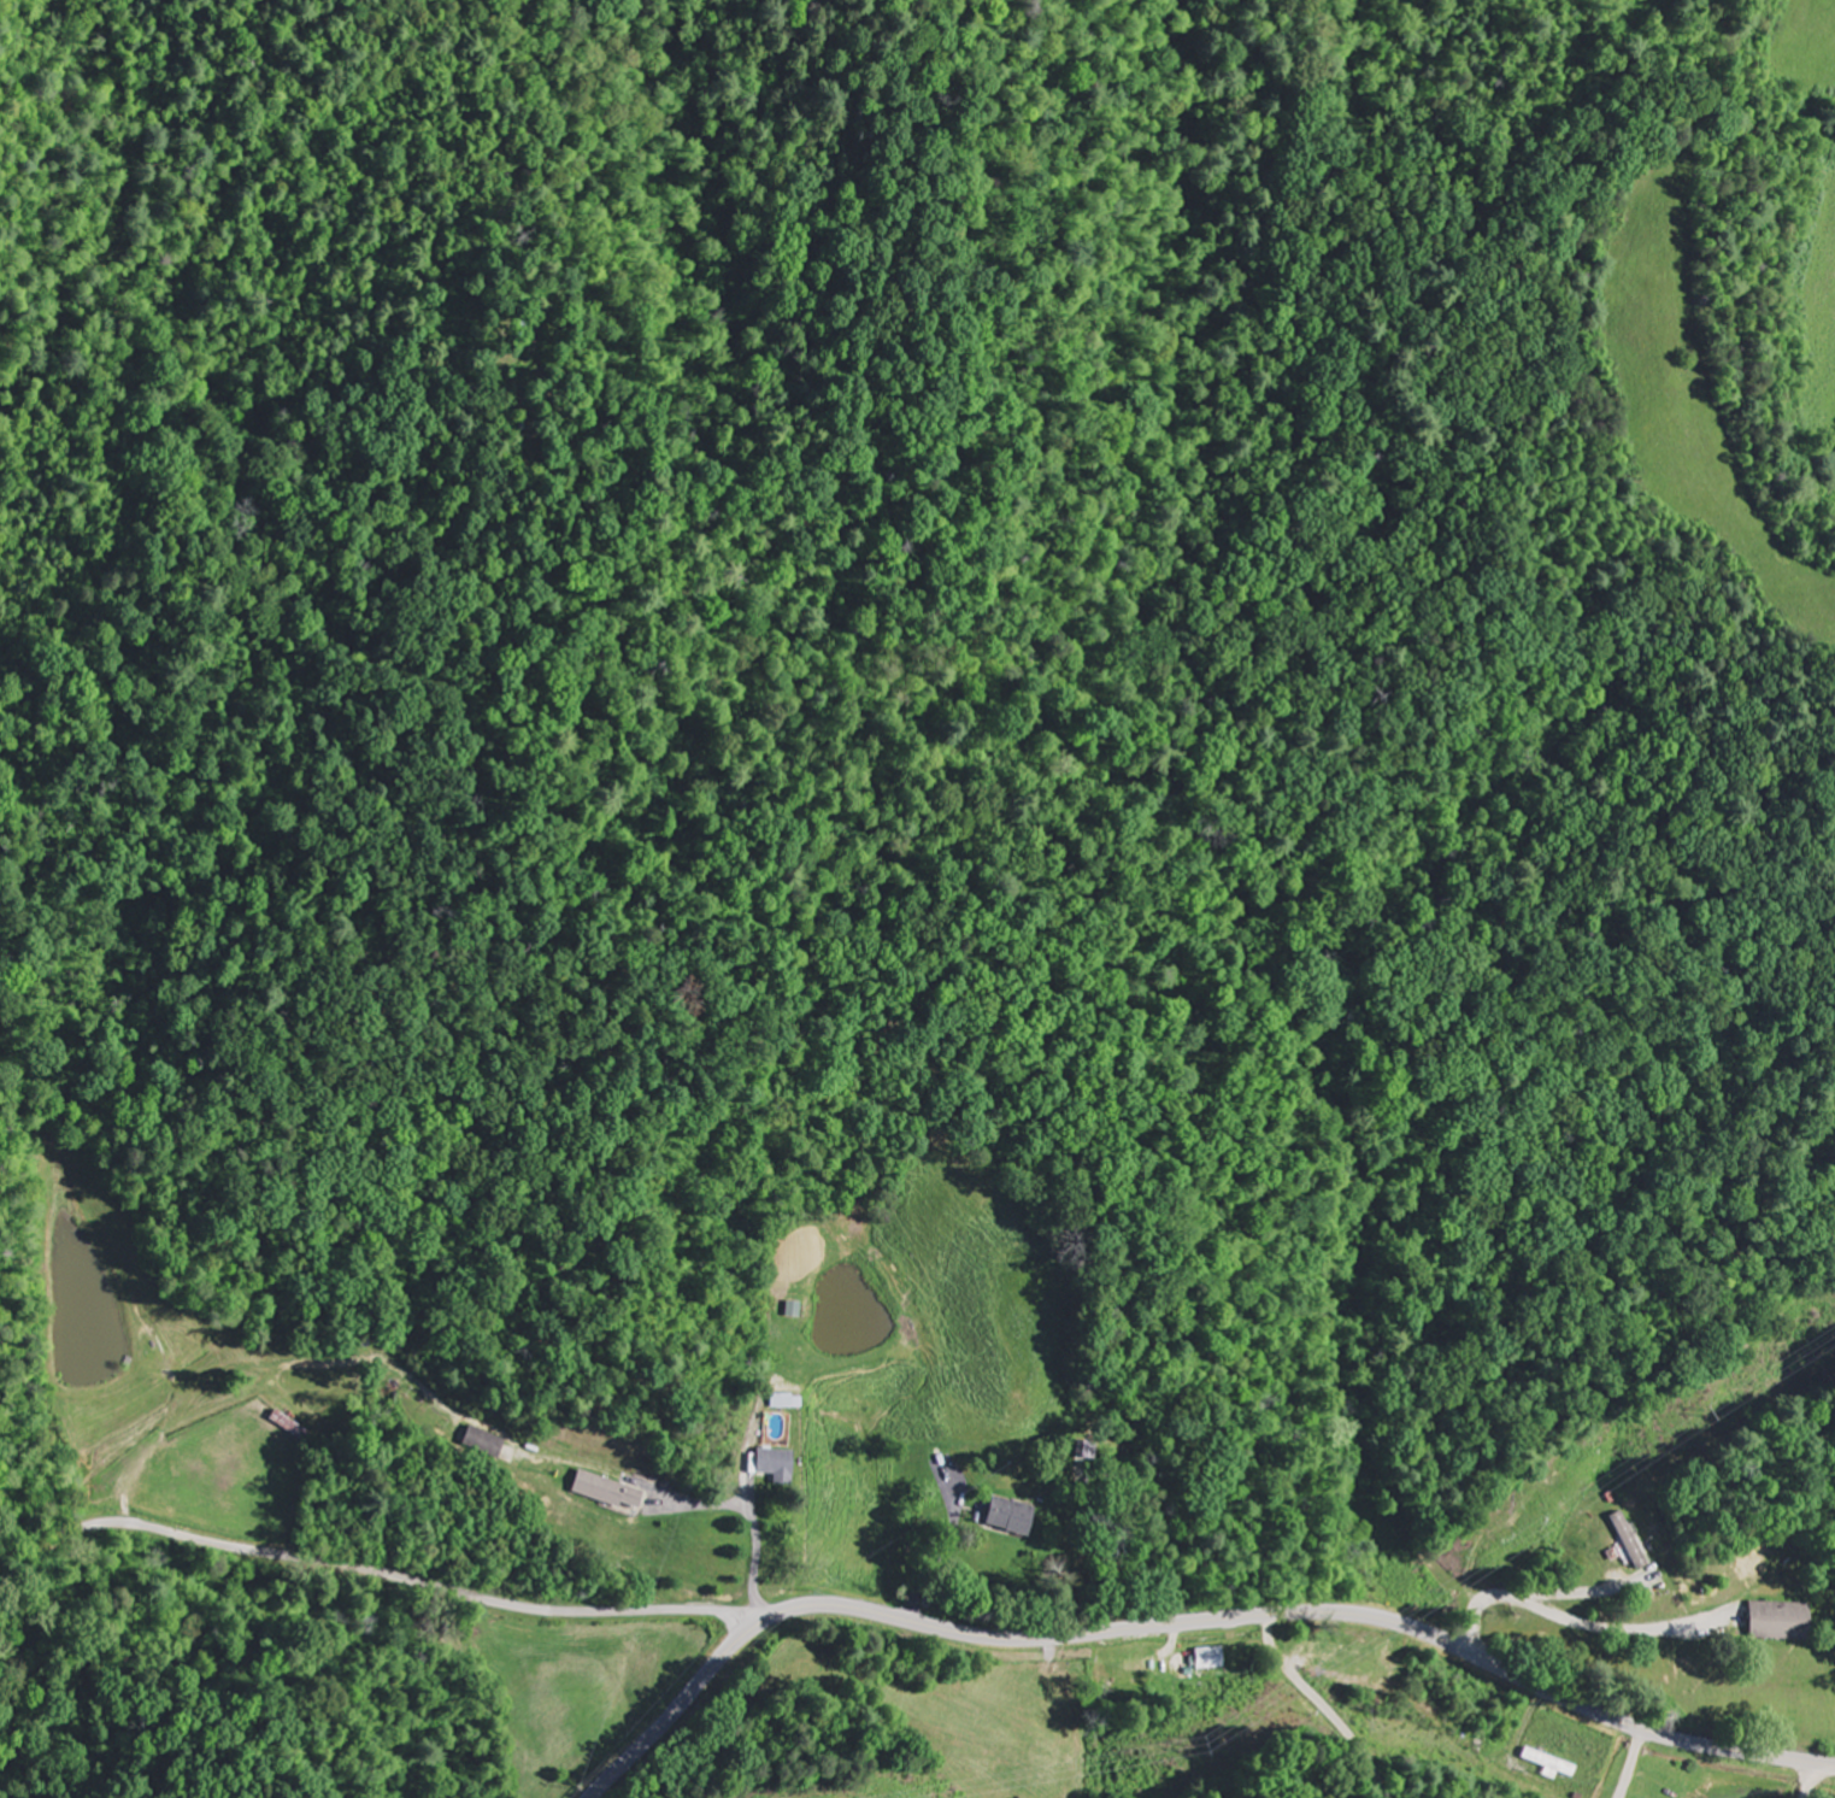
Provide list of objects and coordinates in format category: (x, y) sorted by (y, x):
building: (788, 1402)
building: (484, 1442)
building: (776, 1465)
building: (607, 1491)
building: (1011, 1517)
building: (1631, 1541)
road: (375, 1571)
building: (1782, 1622)
road: (1184, 1624)
building: (1214, 1659)
power tower: (1205, 1745)
road: (1810, 1780)

